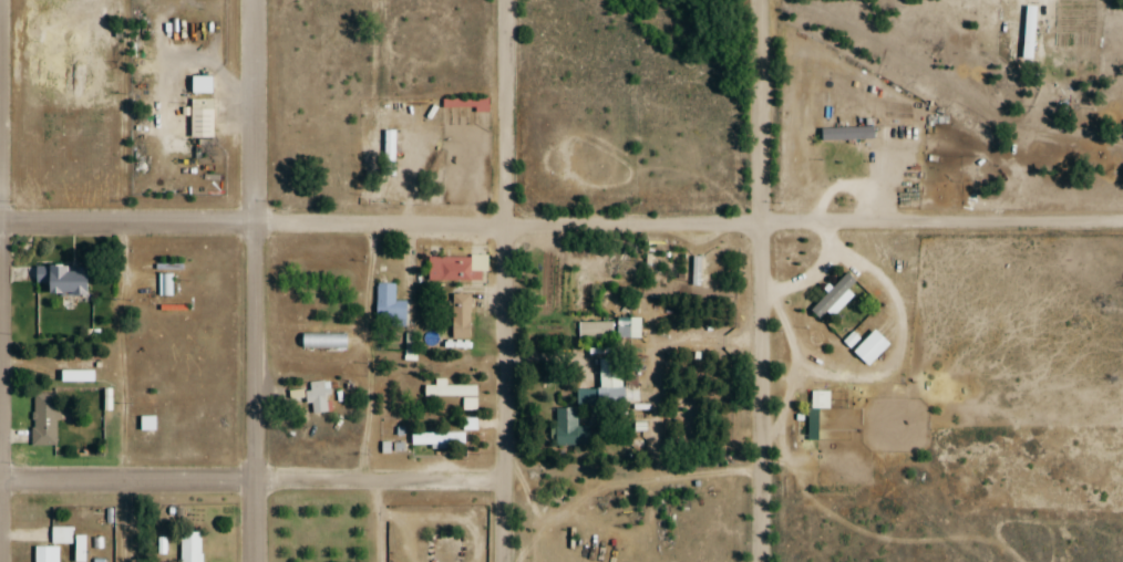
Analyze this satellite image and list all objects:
building: (199, 85)
building: (200, 118)
building: (845, 133)
road: (560, 226)
building: (455, 268)
building: (696, 271)
building: (61, 279)
road: (122, 280)
road: (255, 280)
road: (507, 281)
road: (760, 281)
building: (165, 284)
building: (833, 298)
building: (388, 303)
building: (460, 315)
building: (610, 329)
building: (323, 341)
building: (410, 346)
building: (868, 347)
building: (608, 382)
building: (447, 389)
road: (367, 394)
building: (318, 396)
building: (581, 397)
building: (818, 399)
building: (43, 419)
building: (567, 428)
building: (435, 439)
road: (251, 482)
building: (68, 540)
building: (190, 547)
building: (44, 554)

